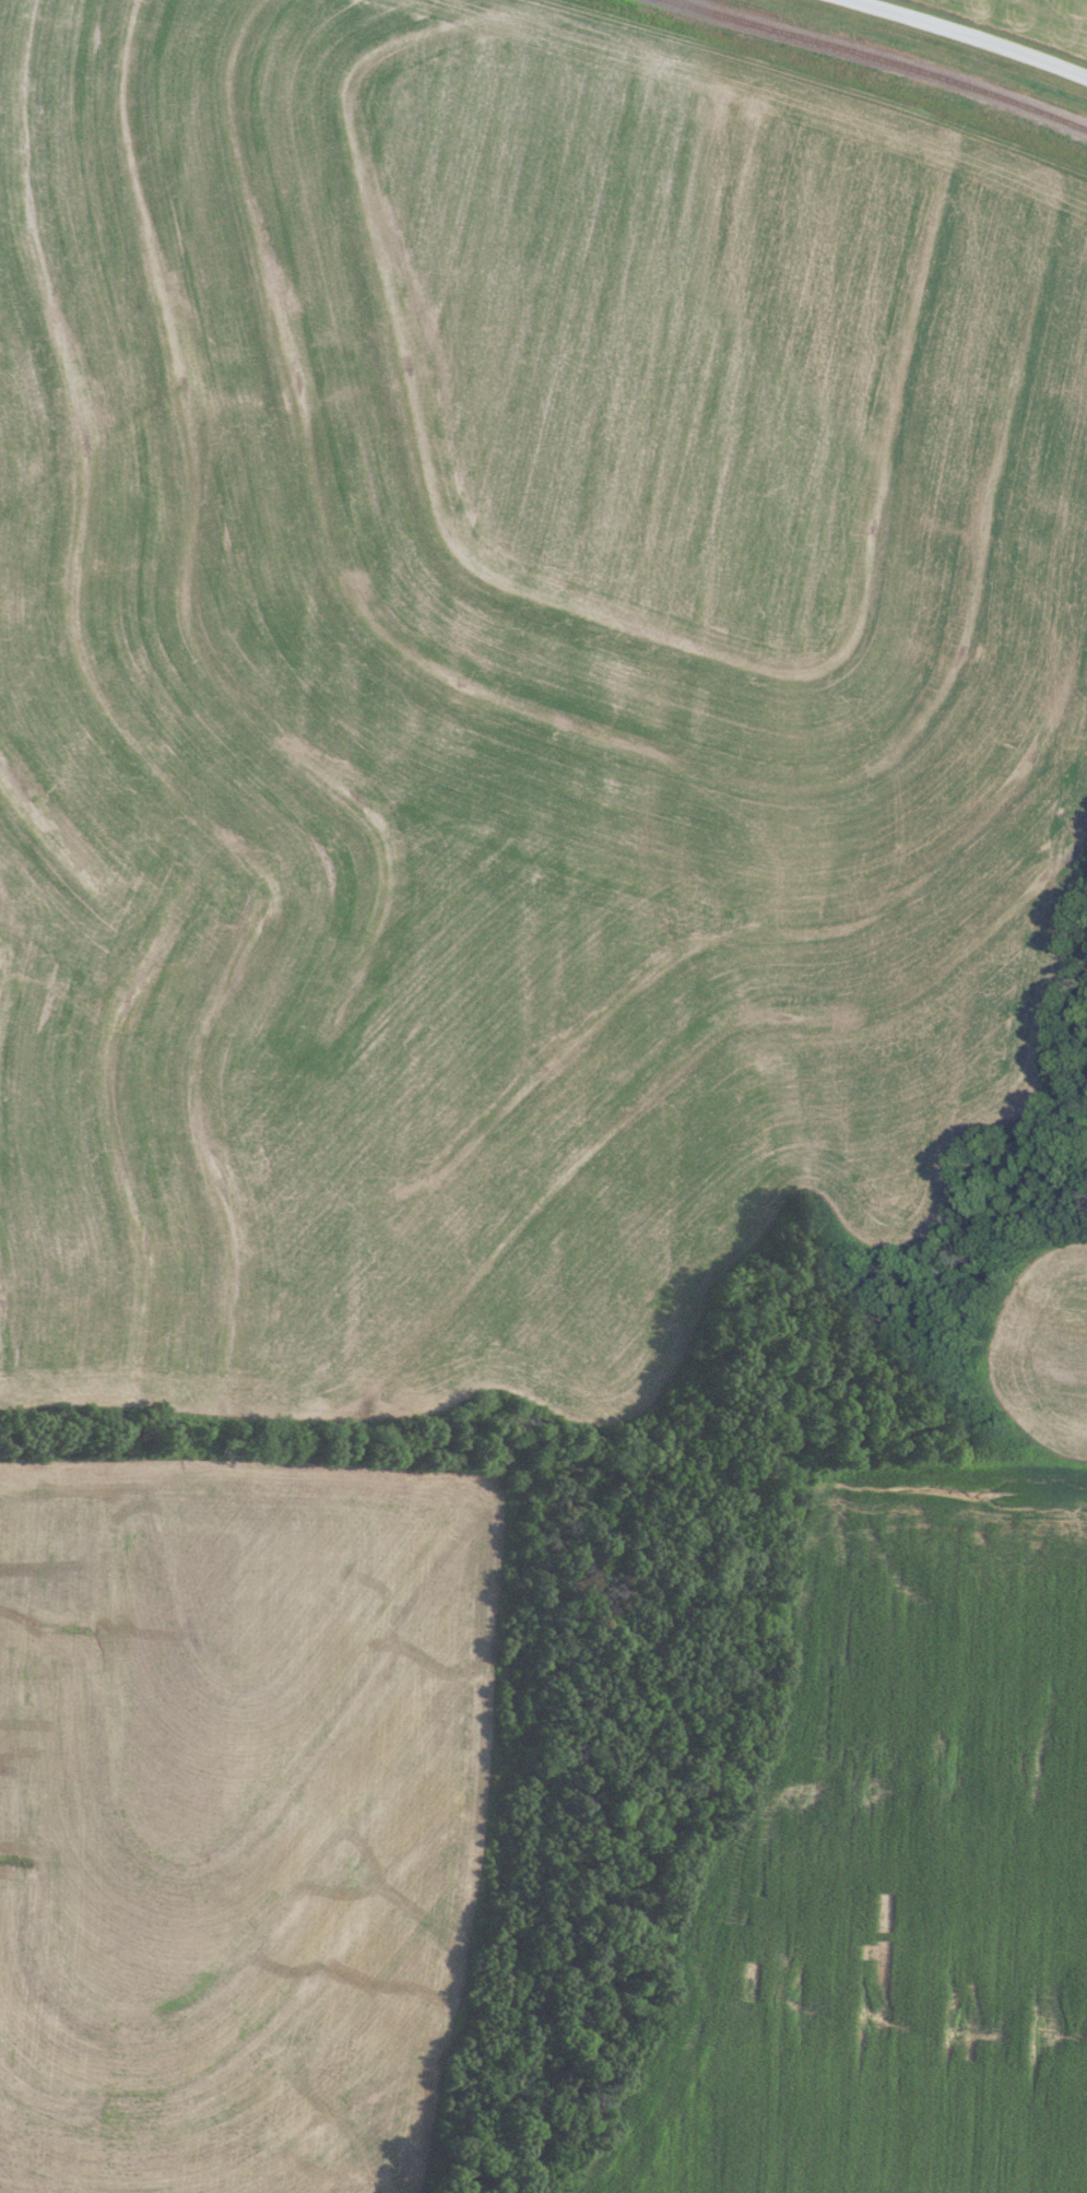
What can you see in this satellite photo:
road: (972, 35)
railway: (888, 57)

